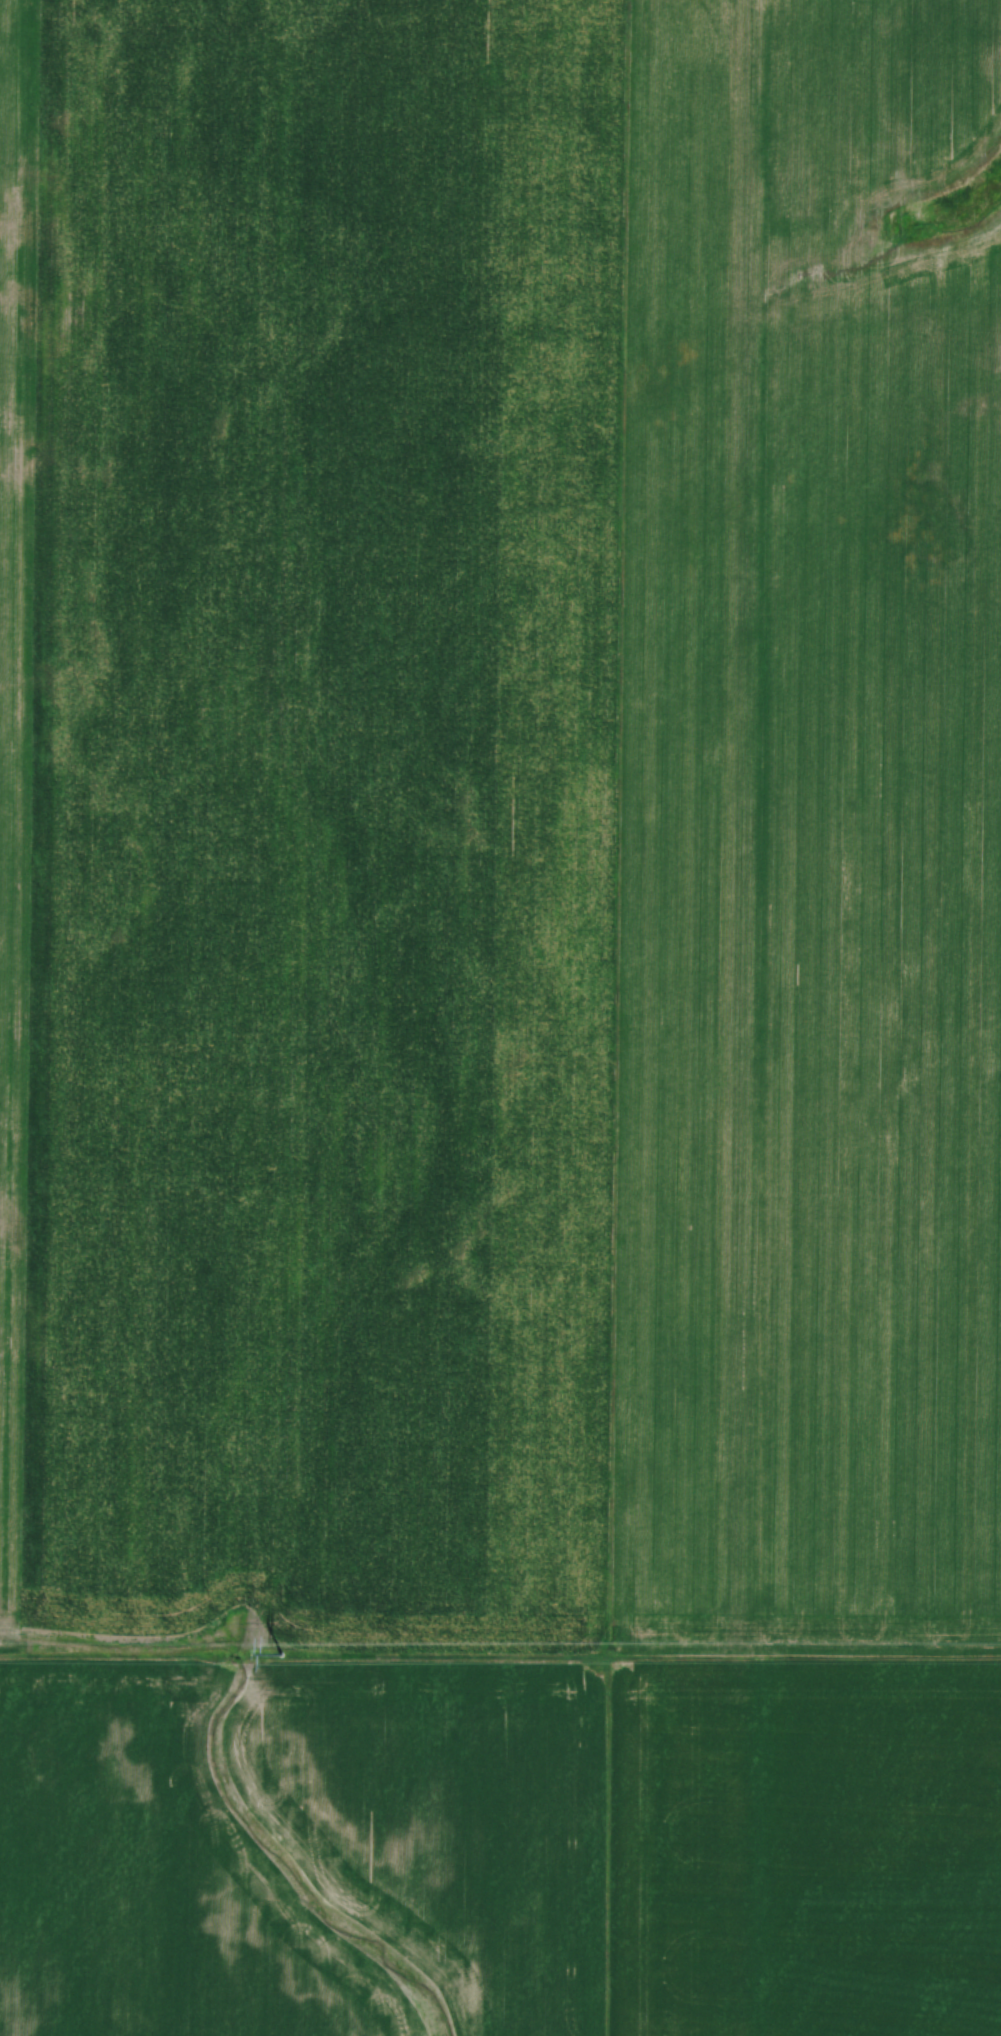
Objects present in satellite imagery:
power tower: (280, 1653)

